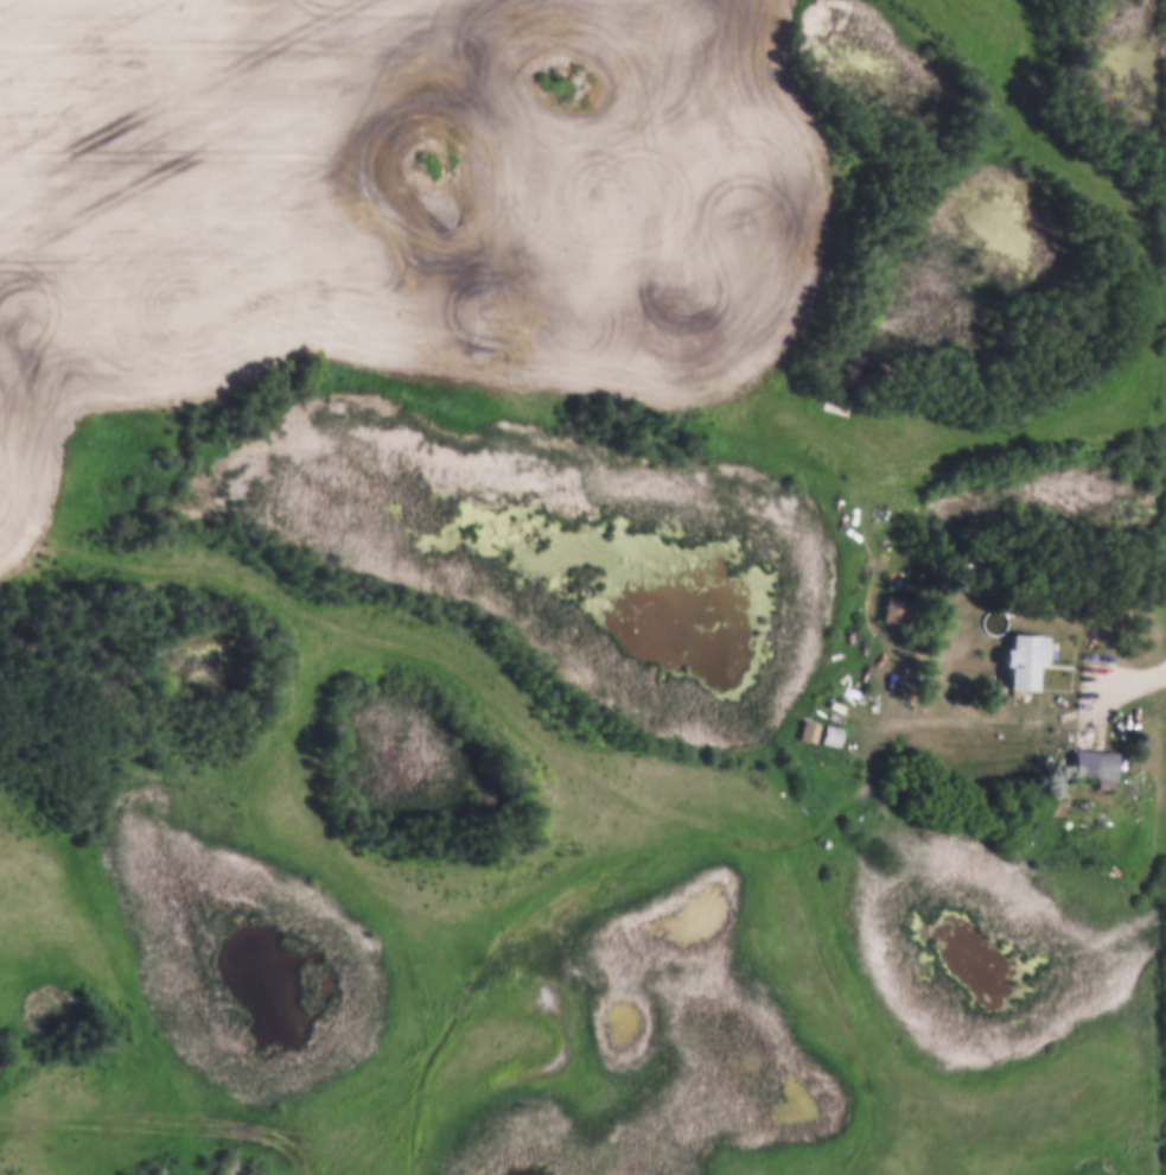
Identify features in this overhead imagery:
building: (894, 605)
building: (1020, 656)
building: (809, 728)
building: (830, 732)
building: (1089, 762)

